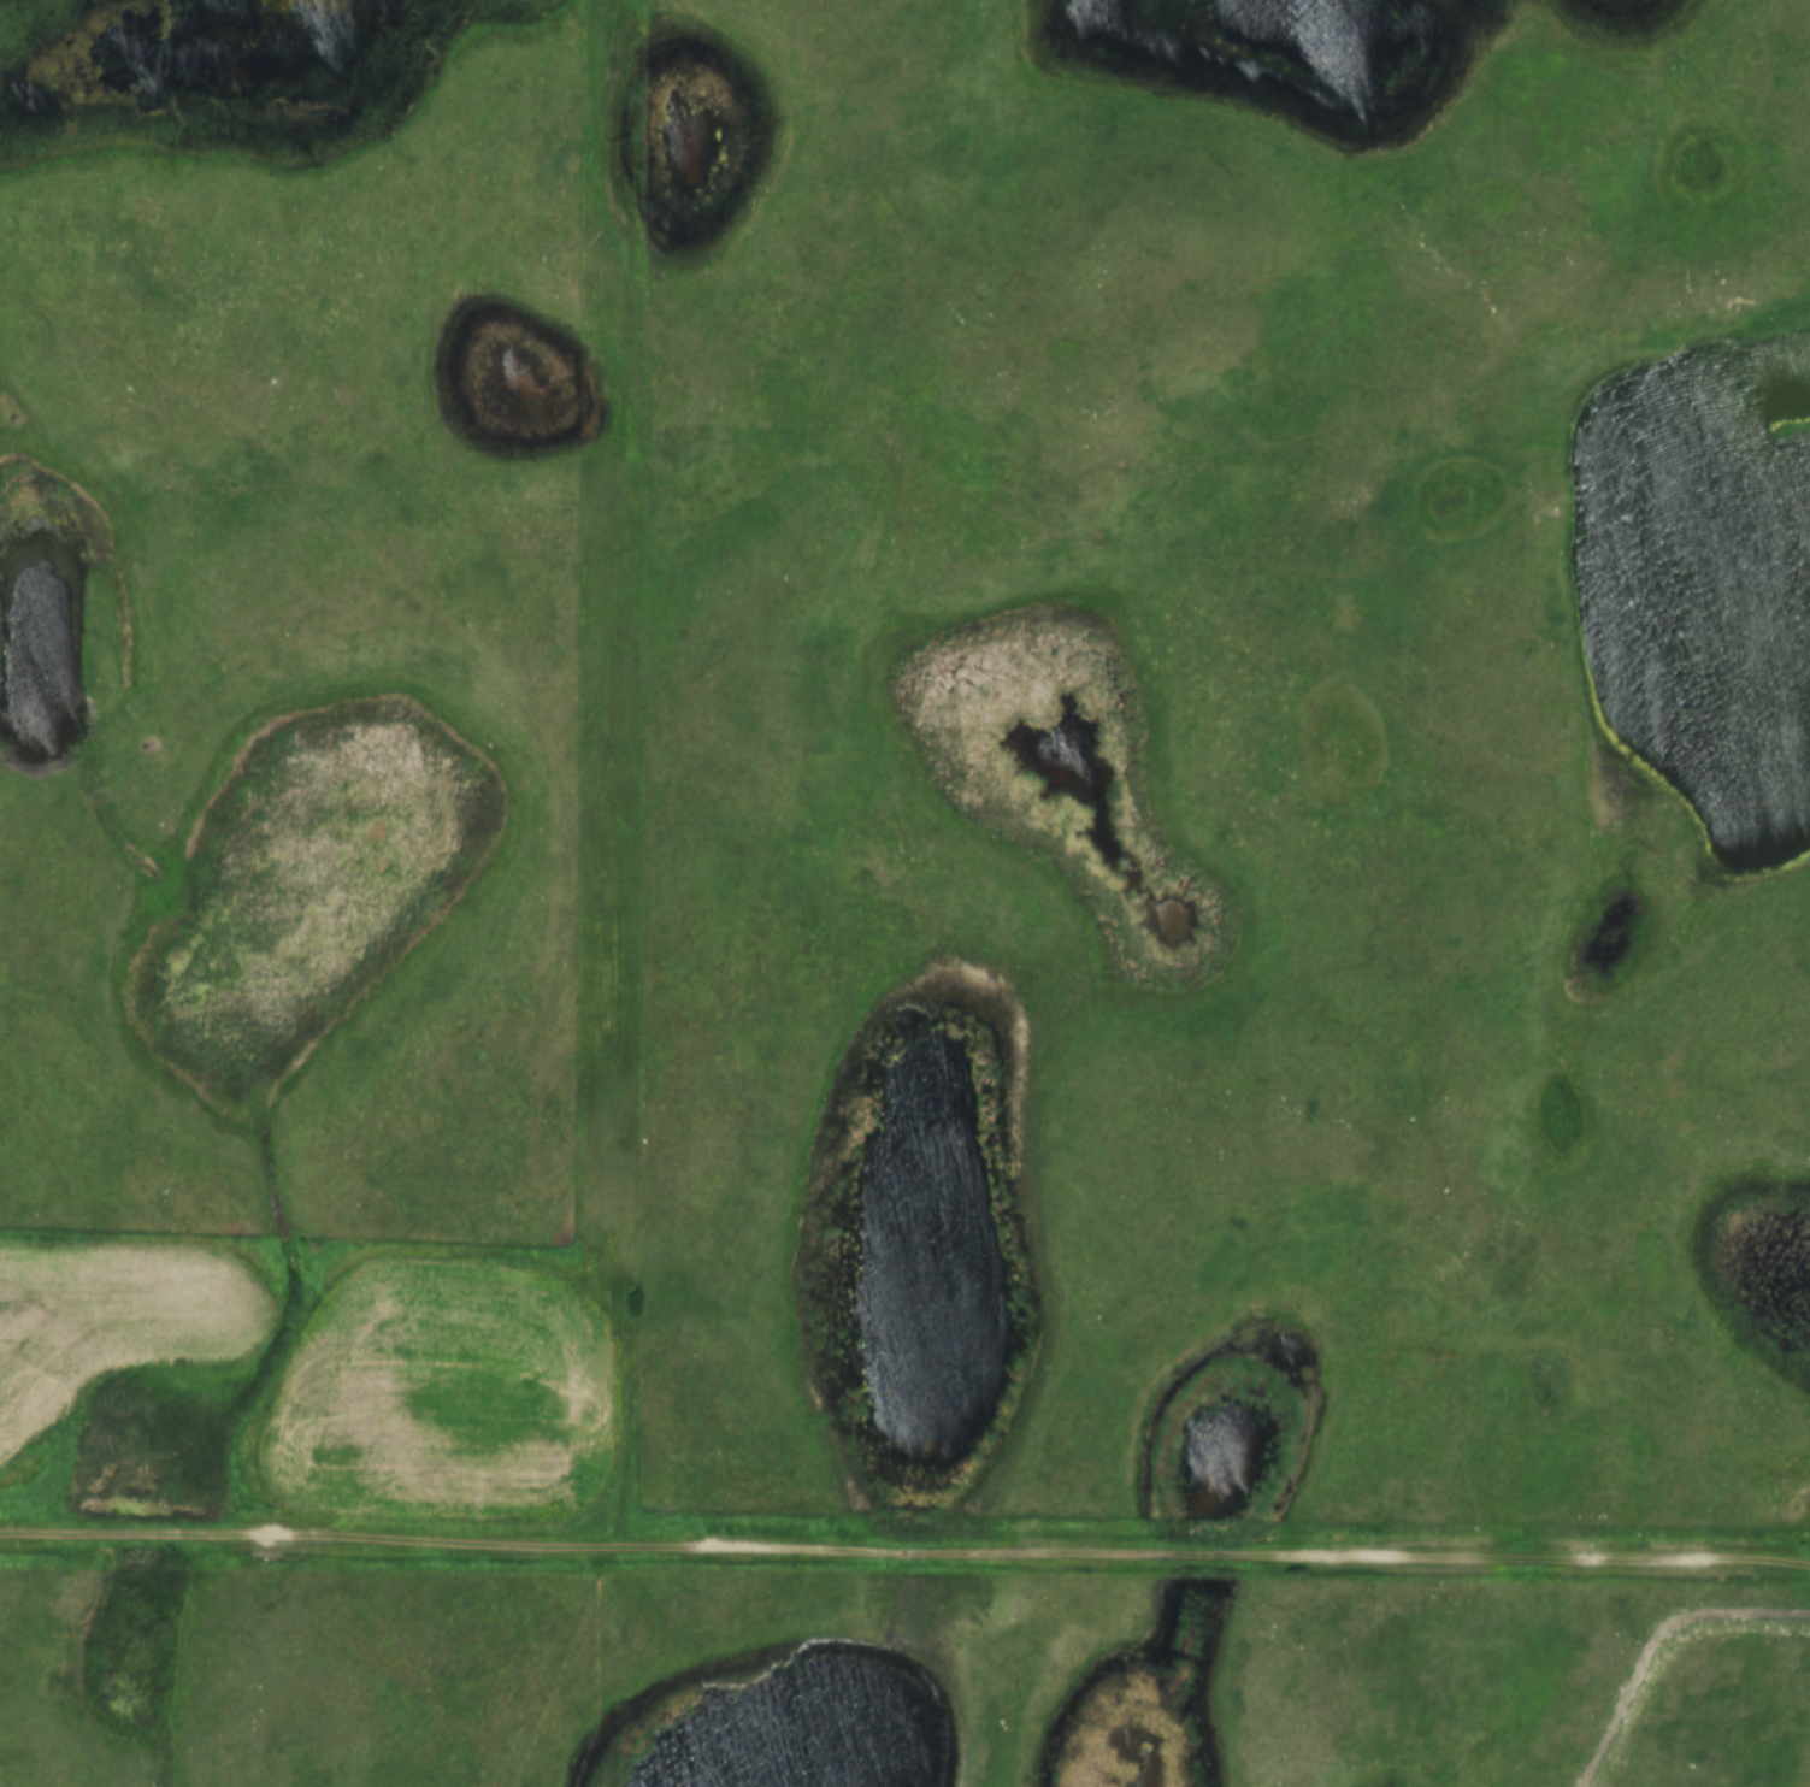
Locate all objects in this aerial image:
road: (904, 1553)

